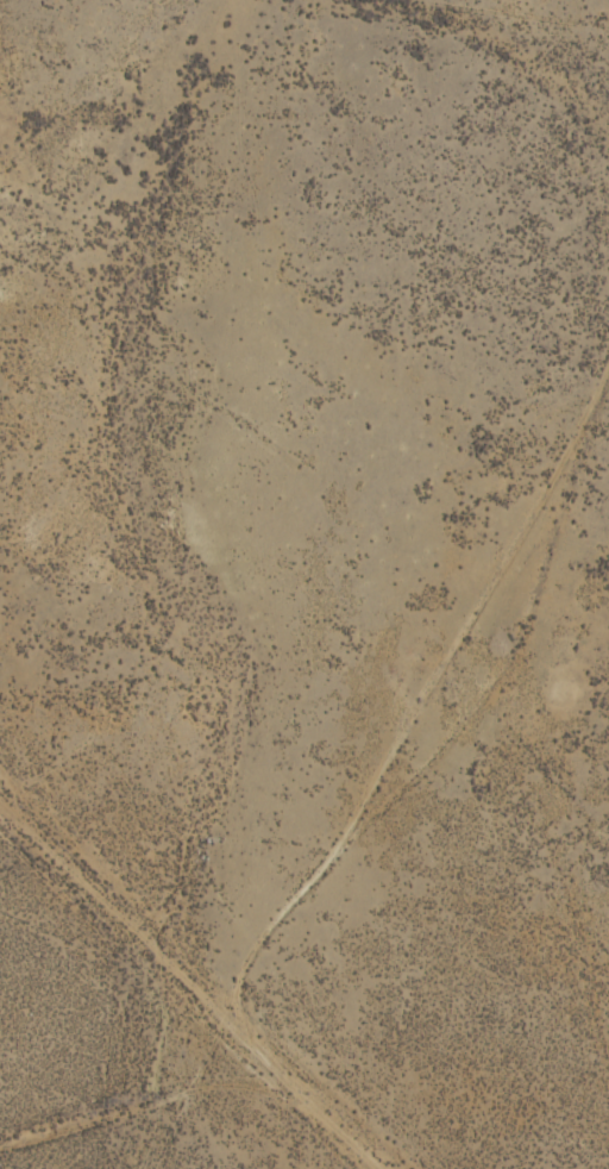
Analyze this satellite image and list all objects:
road: (193, 998)

